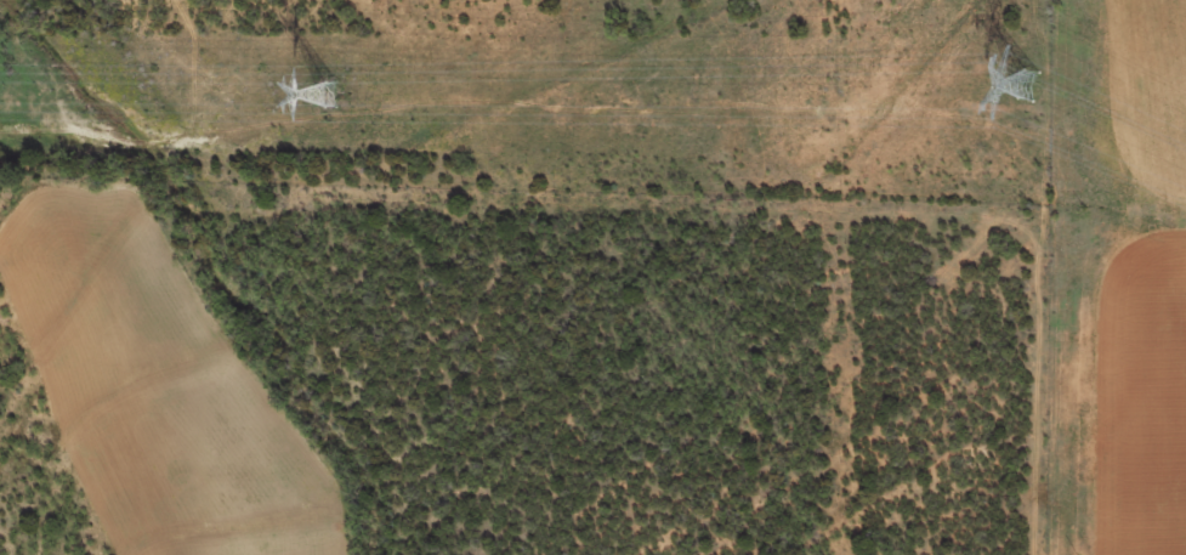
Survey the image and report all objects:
power tower: (1023, 81)
power tower: (325, 94)

